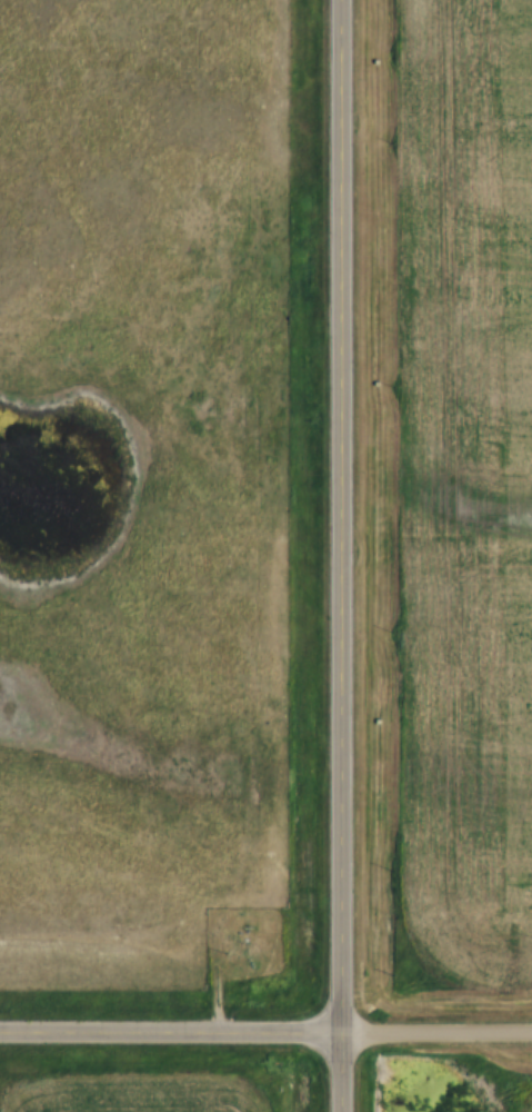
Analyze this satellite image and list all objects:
road: (322, 556)
road: (161, 1030)
road: (426, 1031)

